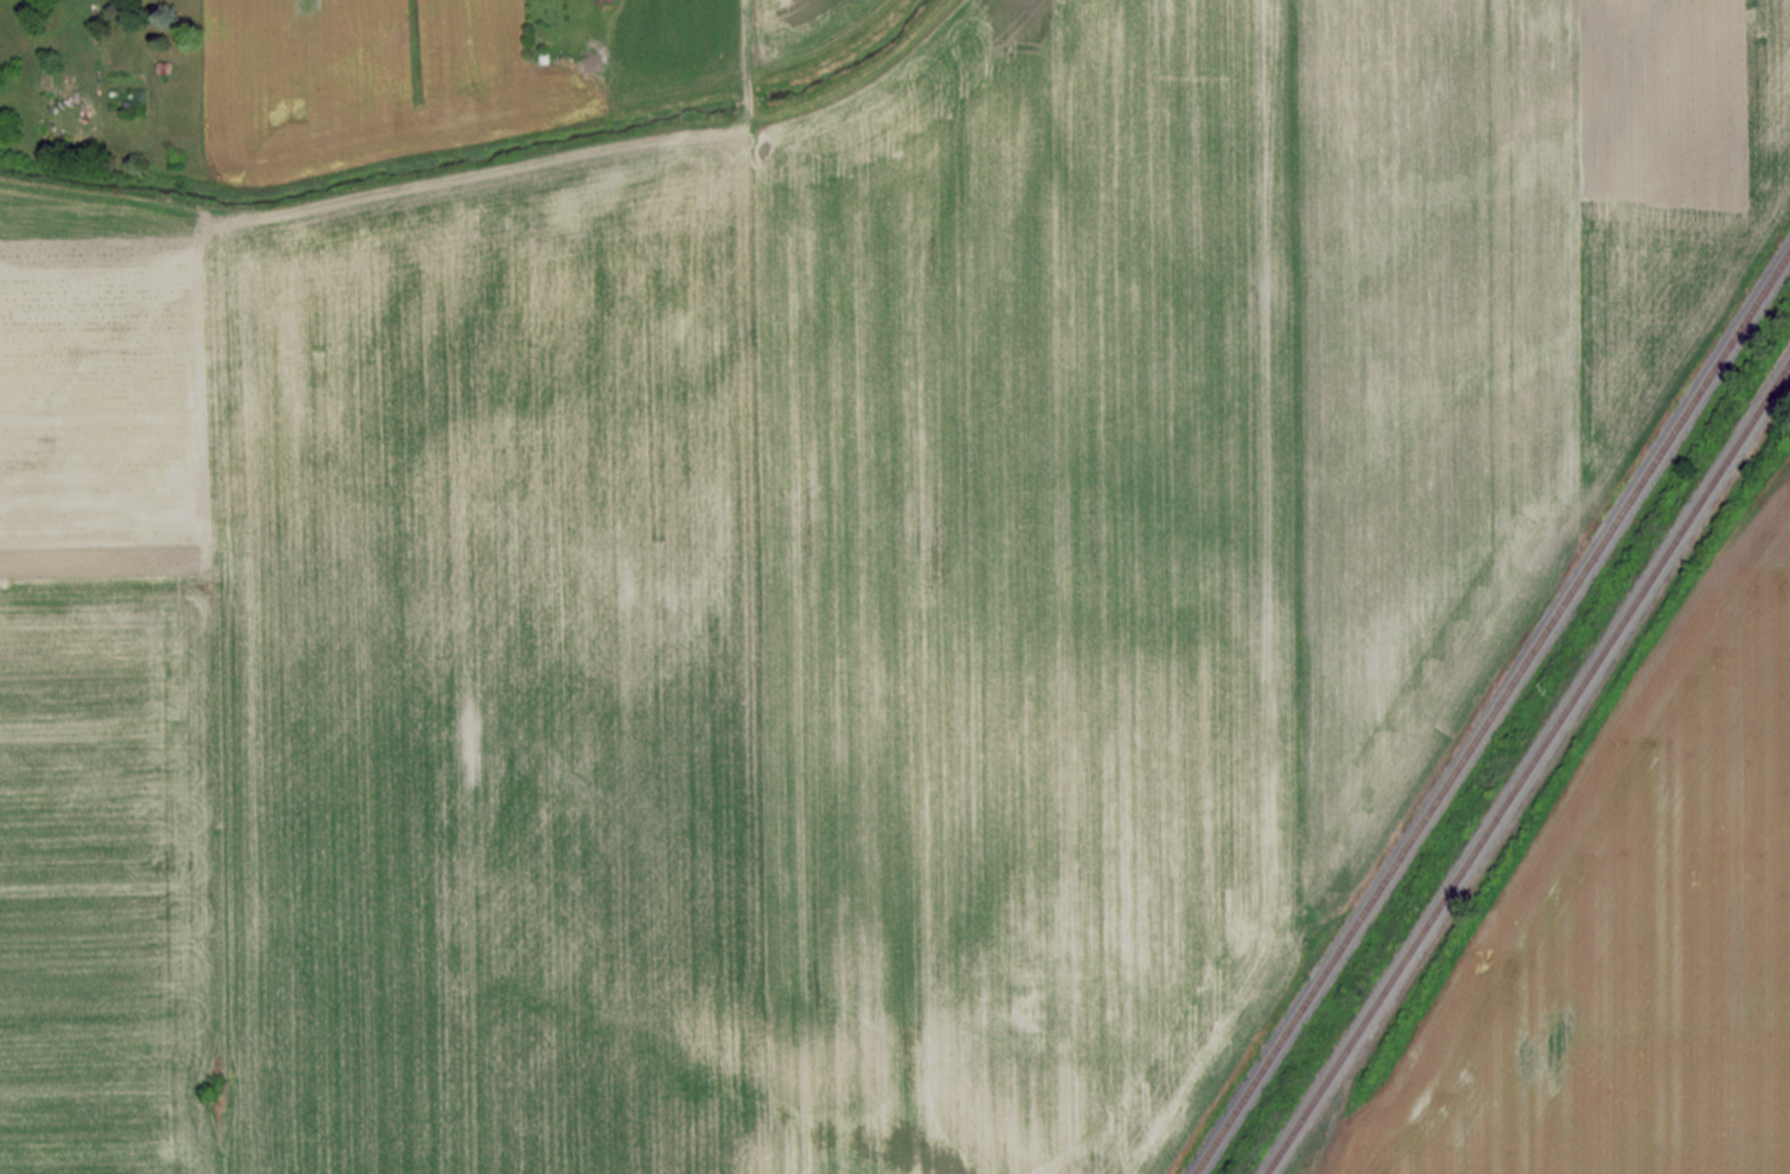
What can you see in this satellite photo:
railway: (1492, 710)
railway: (1527, 766)
crop: (1631, 930)

